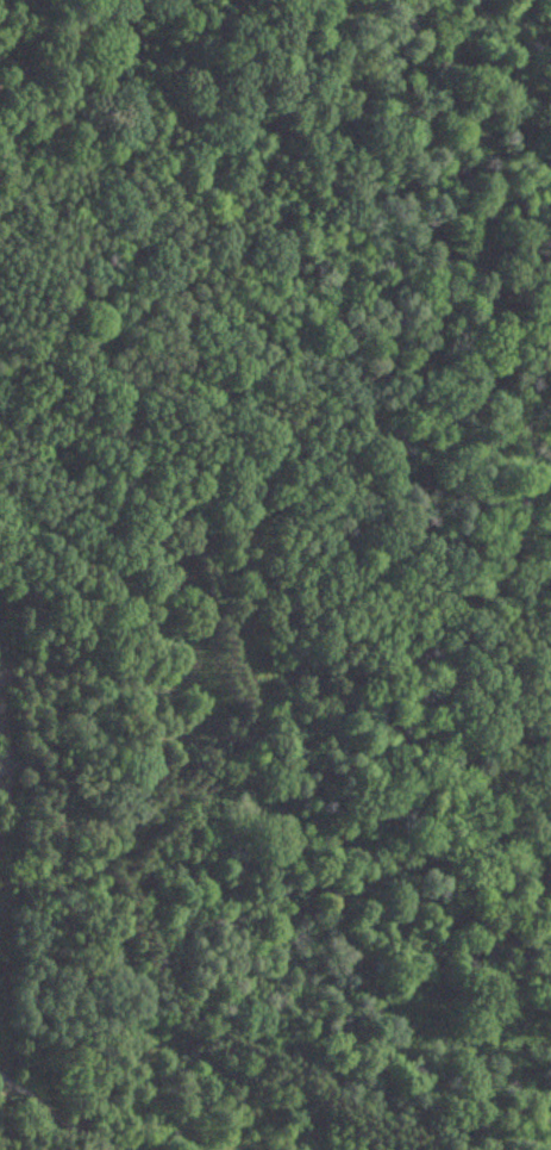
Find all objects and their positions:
road: (57, 1118)

